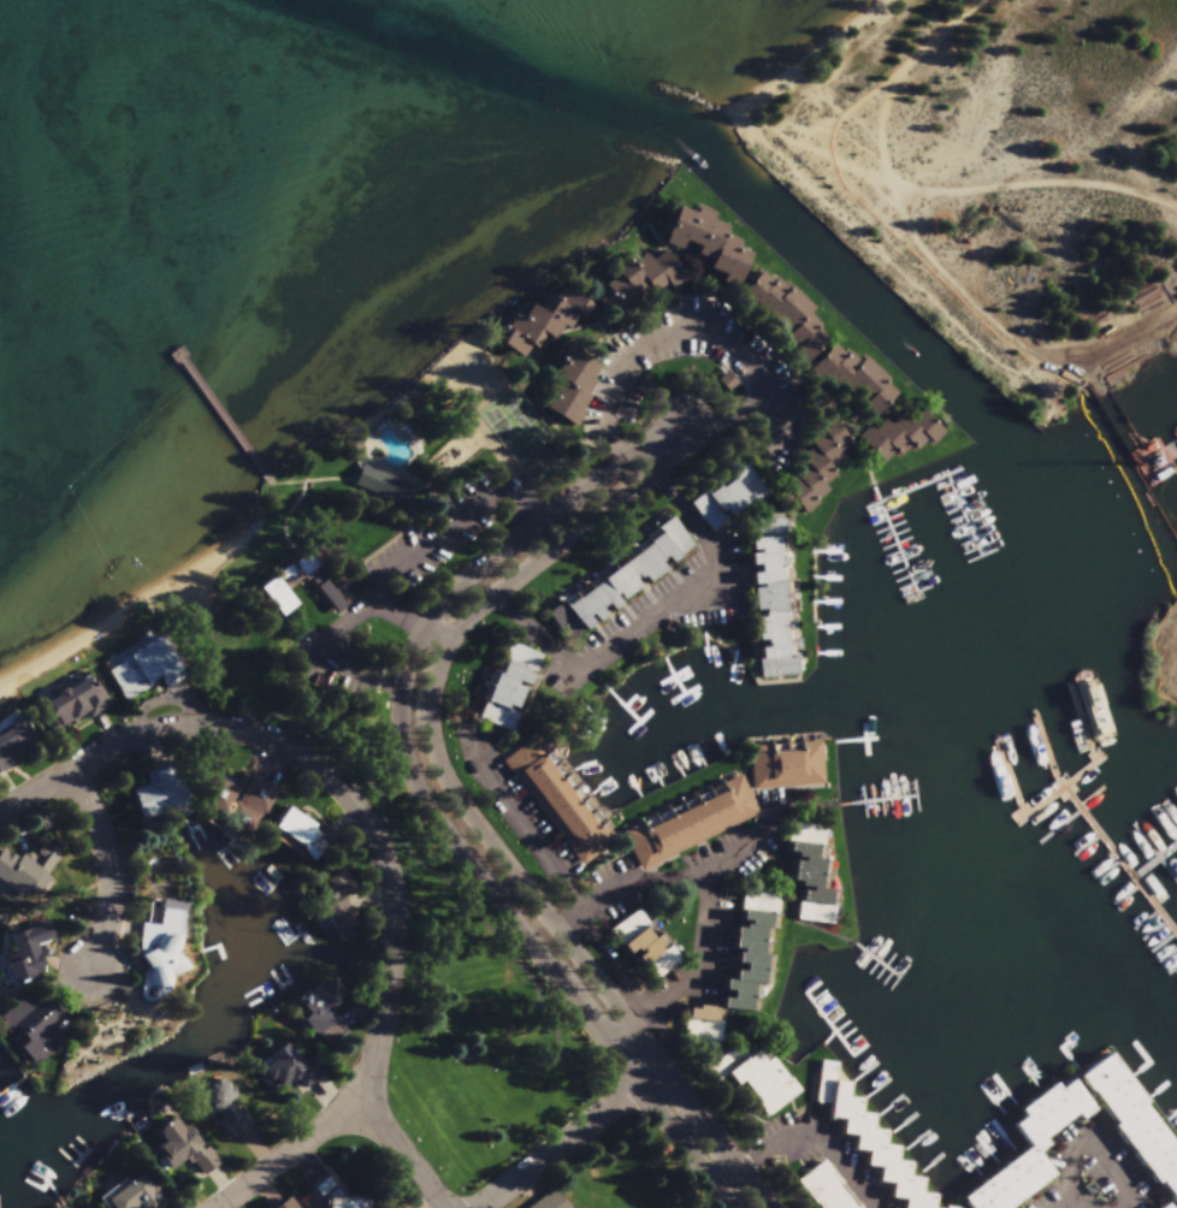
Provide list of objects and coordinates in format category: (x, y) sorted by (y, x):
road: (921, 193)
building: (709, 245)
building: (638, 289)
building: (786, 315)
building: (540, 324)
building: (847, 375)
building: (572, 390)
pier: (224, 420)
building: (898, 437)
park: (526, 442)
building: (817, 470)
building: (384, 488)
building: (728, 501)
building: (303, 570)
building: (627, 576)
building: (327, 596)
building: (277, 599)
building: (771, 603)
building: (140, 670)
building: (510, 689)
building: (75, 707)
building: (14, 744)
building: (787, 769)
road: (323, 772)
building: (158, 795)
road: (425, 800)
building: (561, 804)
building: (243, 806)
road: (466, 810)
building: (692, 827)
building: (300, 836)
road: (739, 846)
road: (110, 869)
building: (26, 870)
building: (810, 877)
road: (709, 900)
building: (761, 905)
building: (339, 910)
building: (644, 948)
building: (30, 955)
building: (165, 957)
building: (747, 964)
building: (323, 1007)
building: (702, 1025)
building: (37, 1030)
building: (292, 1072)
building: (762, 1085)
building: (230, 1117)
building: (1134, 1126)
road: (576, 1139)
building: (870, 1144)
road: (1096, 1145)
building: (175, 1149)
building: (1031, 1150)
road: (832, 1154)
road: (292, 1155)
road: (404, 1155)
building: (827, 1190)
building: (333, 1197)
building: (135, 1198)
building: (552, 1201)
road: (1072, 1204)
road: (1084, 1204)
building: (286, 1206)
building: (1160, 1206)

